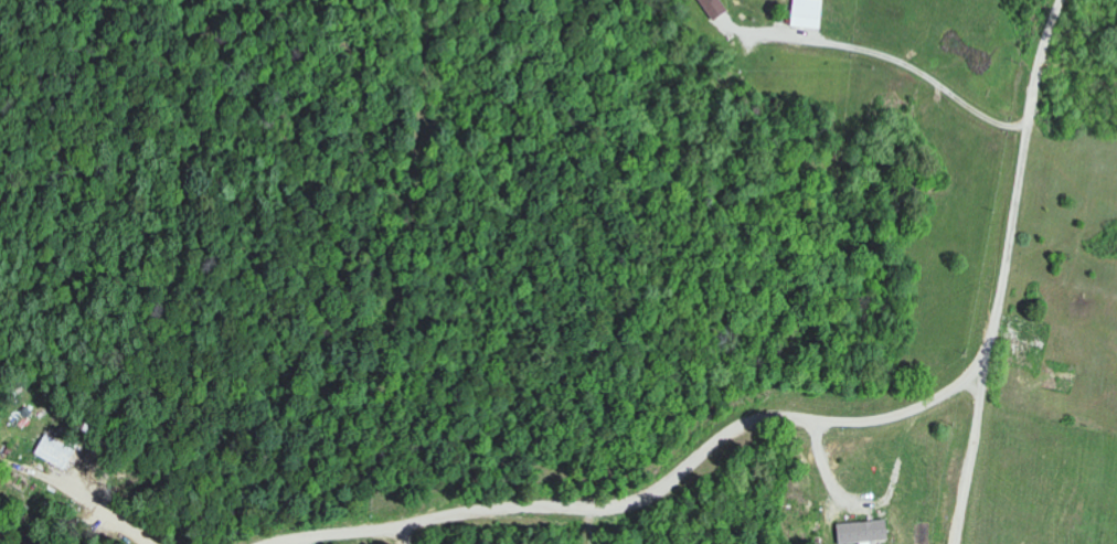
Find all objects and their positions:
building: (719, 8)
building: (811, 13)
road: (902, 67)
building: (1022, 375)
road: (802, 417)
road: (975, 440)
building: (58, 451)
road: (107, 512)
building: (866, 532)

